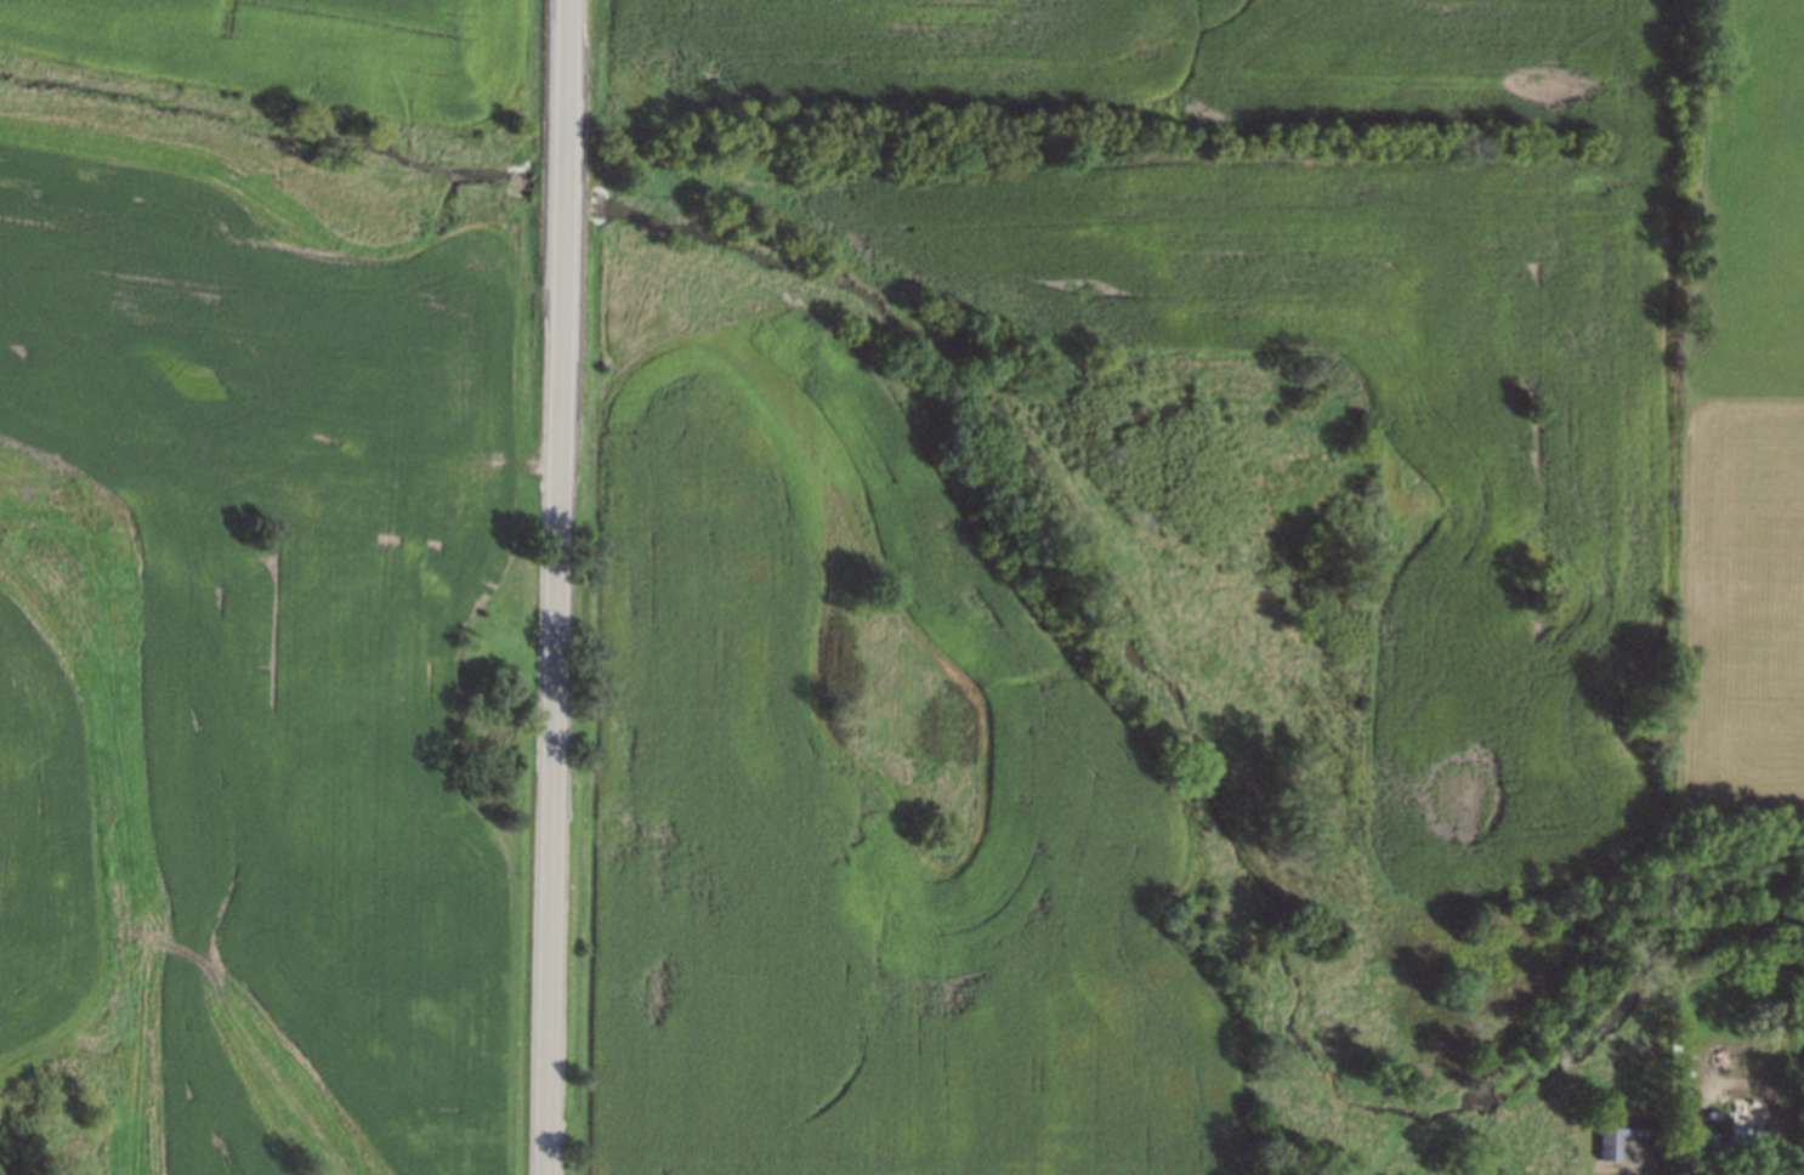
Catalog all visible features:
road: (555, 586)
building: (1619, 1135)

